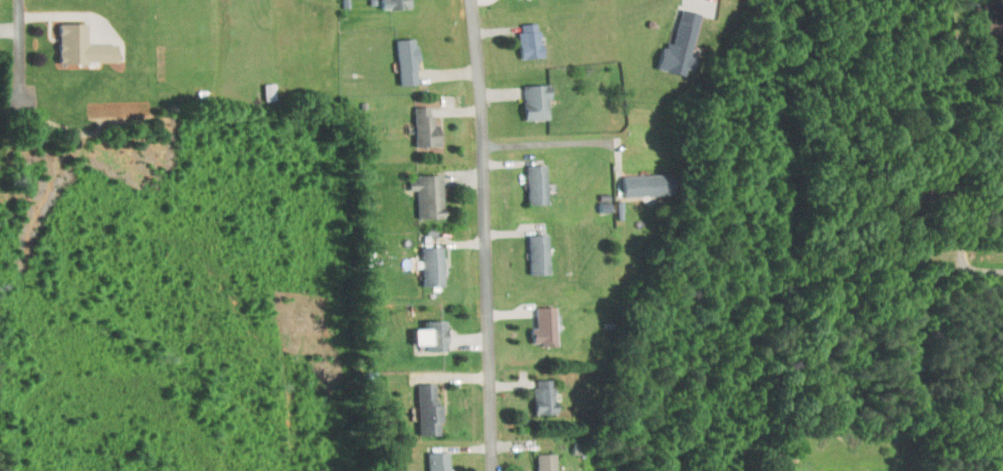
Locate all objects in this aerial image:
building: (385, 1)
road: (75, 16)
building: (521, 34)
building: (74, 39)
building: (672, 39)
building: (398, 54)
road: (21, 57)
building: (261, 85)
building: (528, 95)
building: (416, 121)
road: (551, 144)
building: (528, 177)
building: (637, 178)
building: (420, 189)
road: (486, 235)
building: (530, 247)
building: (424, 259)
road: (968, 278)
building: (536, 319)
building: (423, 329)
road: (925, 374)
building: (536, 390)
building: (419, 402)
building: (430, 458)
building: (537, 459)
building: (835, 468)

